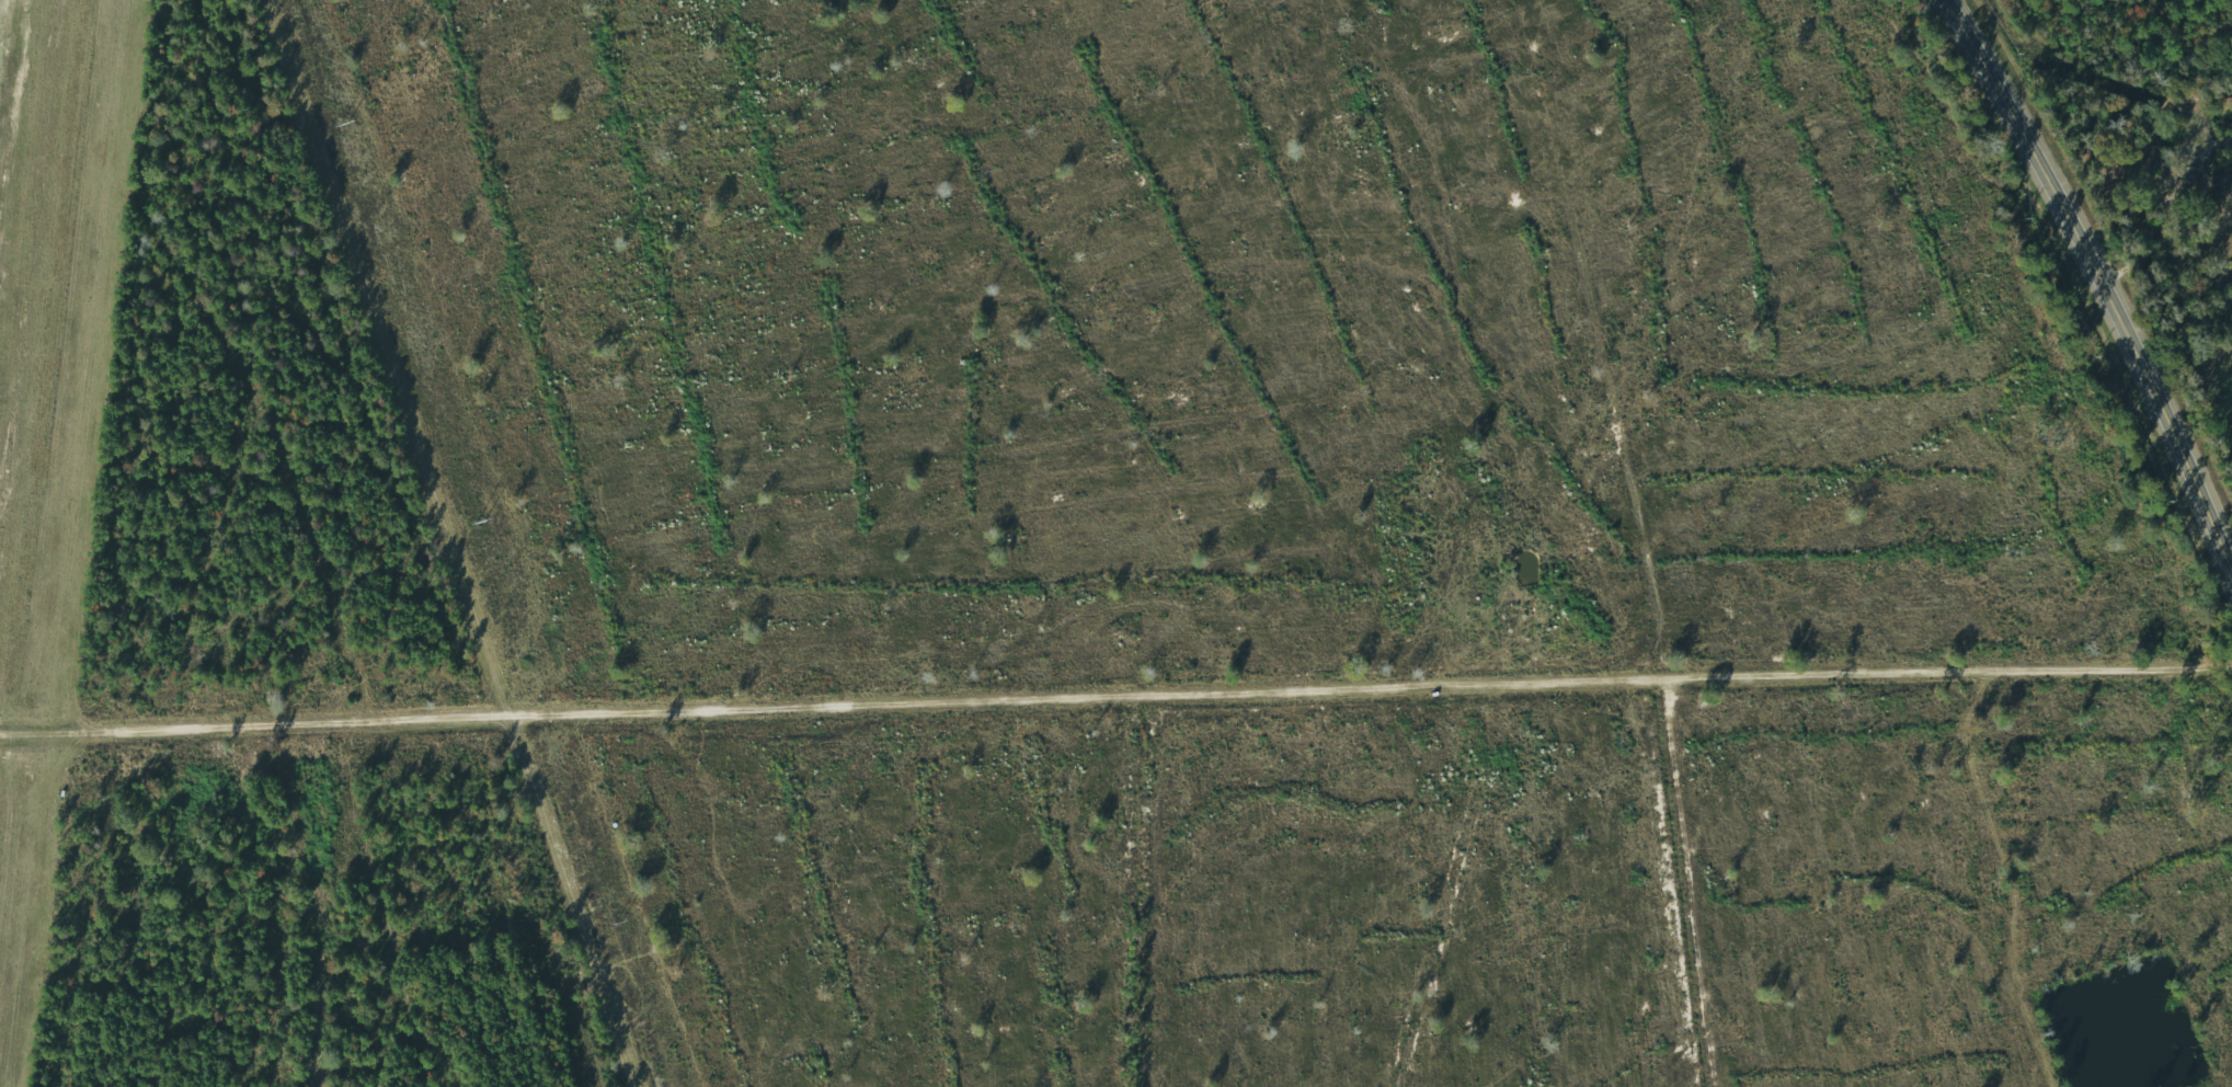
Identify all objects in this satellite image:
power tower: (344, 127)
road: (2165, 241)
road: (2103, 279)
power tower: (481, 523)
road: (1378, 686)
road: (263, 711)
road: (540, 892)
power tower: (619, 923)

